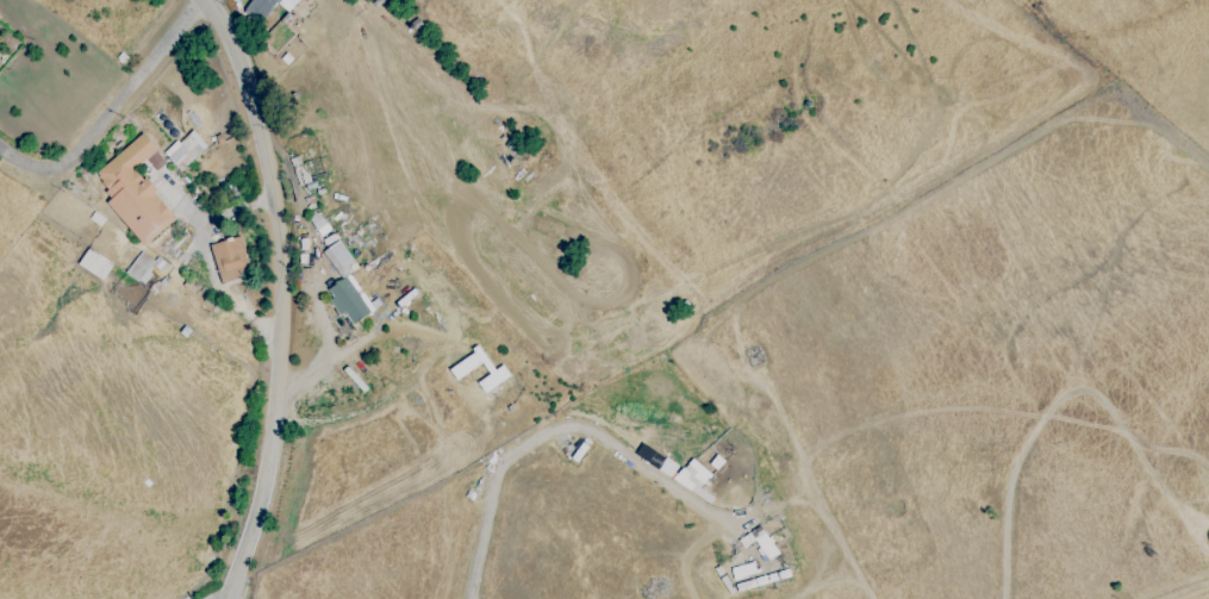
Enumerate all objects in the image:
road: (207, 0)
building: (267, 7)
road: (113, 112)
building: (185, 150)
building: (135, 192)
building: (338, 257)
building: (230, 258)
building: (139, 268)
road: (279, 295)
building: (349, 300)
building: (498, 372)
road: (559, 429)
road: (244, 592)

